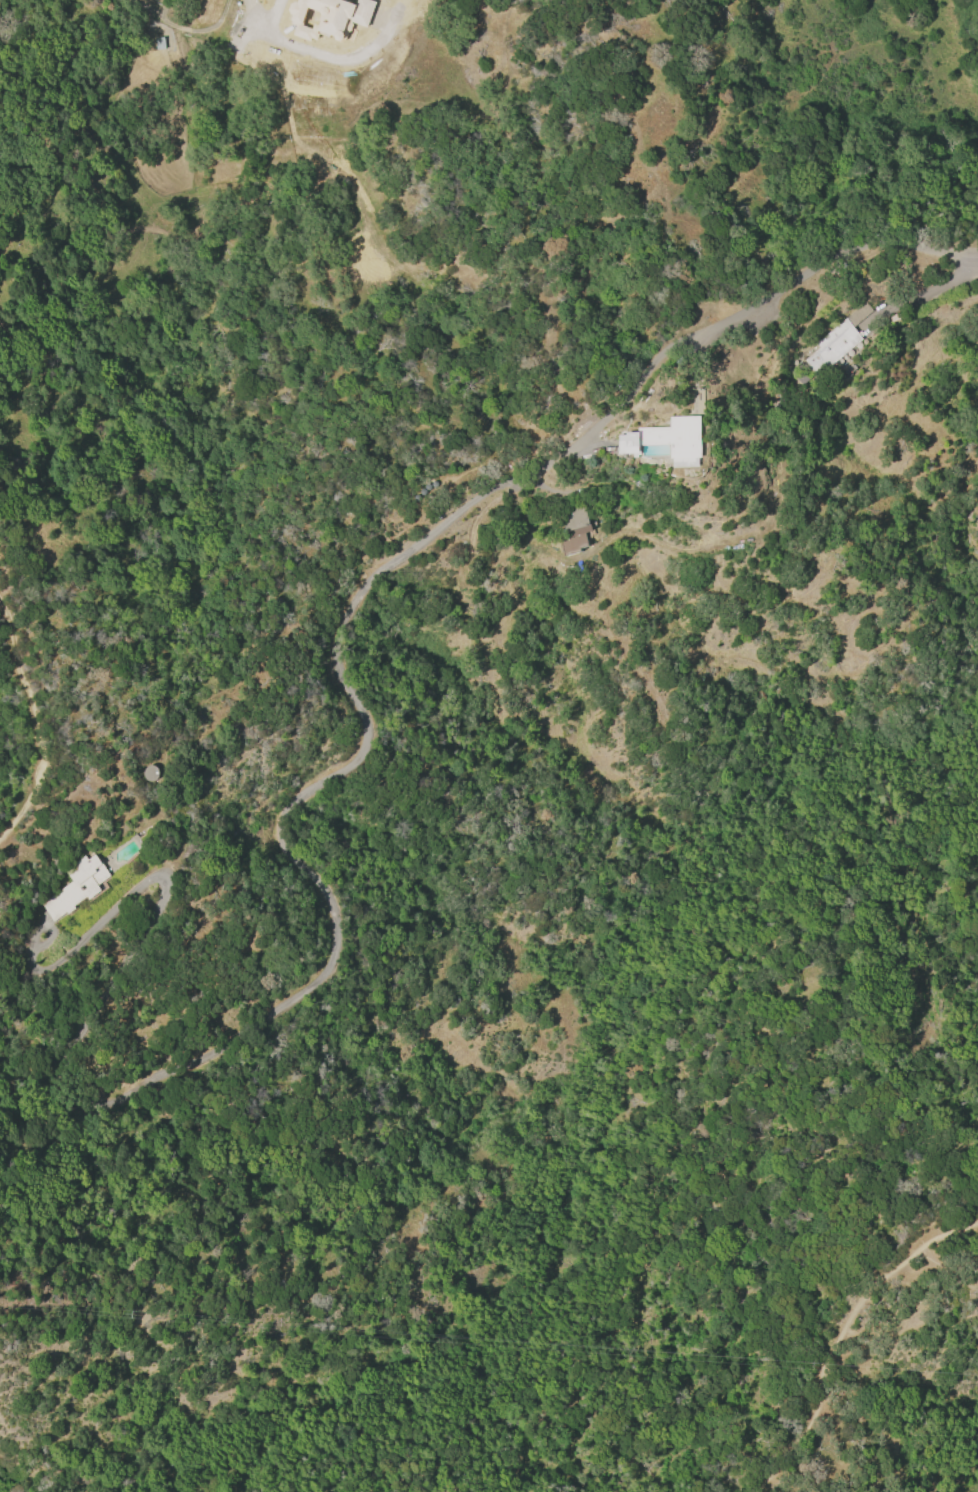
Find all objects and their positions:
road: (250, 5)
building: (836, 341)
building: (667, 440)
building: (574, 530)
road: (329, 639)
building: (76, 887)
road: (838, 1331)

